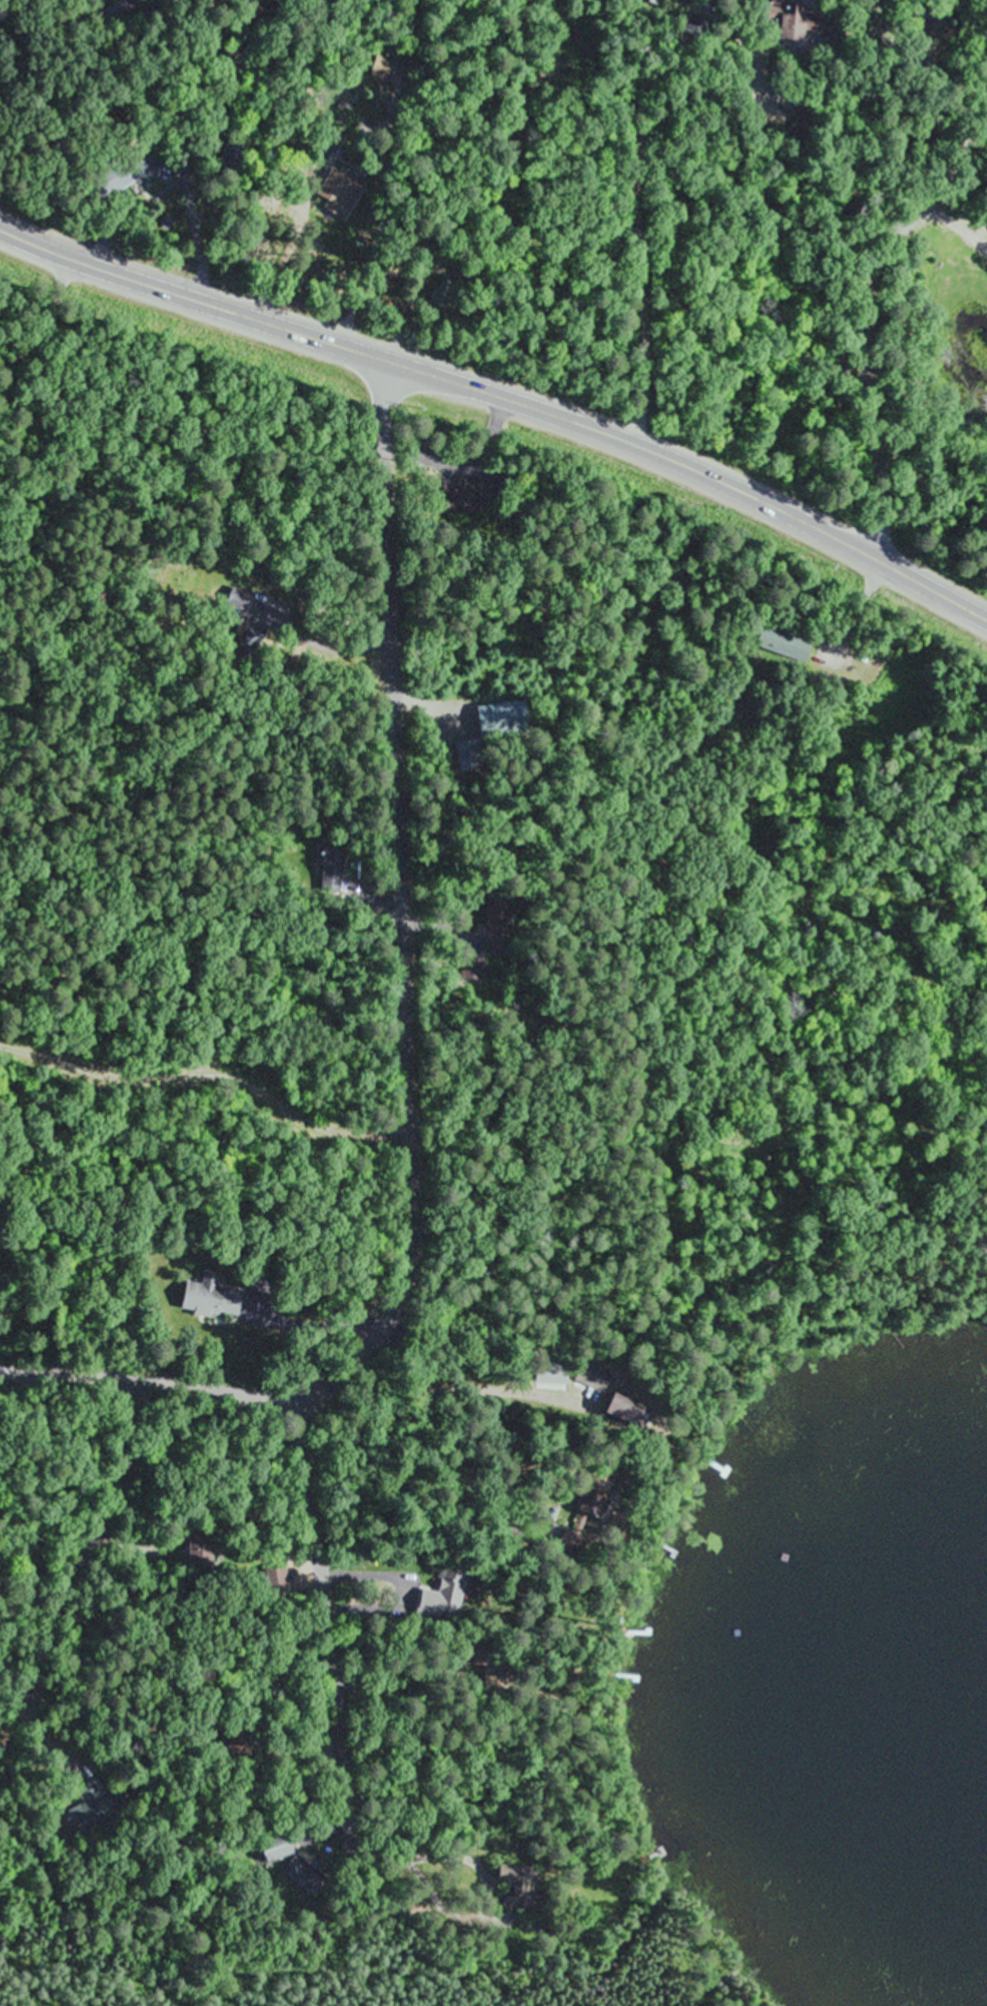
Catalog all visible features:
building: (649, 2)
road: (831, 10)
building: (787, 22)
road: (940, 64)
building: (986, 135)
road: (377, 173)
building: (340, 192)
road: (962, 206)
road: (335, 207)
road: (601, 216)
road: (123, 226)
road: (281, 251)
building: (971, 272)
road: (870, 316)
road: (502, 397)
building: (454, 501)
building: (775, 644)
building: (330, 868)
road: (408, 886)
road: (413, 1242)
building: (214, 1296)
building: (594, 1377)
road: (211, 1382)
building: (633, 1410)
building: (599, 1496)
road: (89, 1562)
building: (448, 1594)
road: (333, 1625)
building: (236, 1742)
building: (82, 1817)
building: (295, 1864)
building: (517, 1880)

